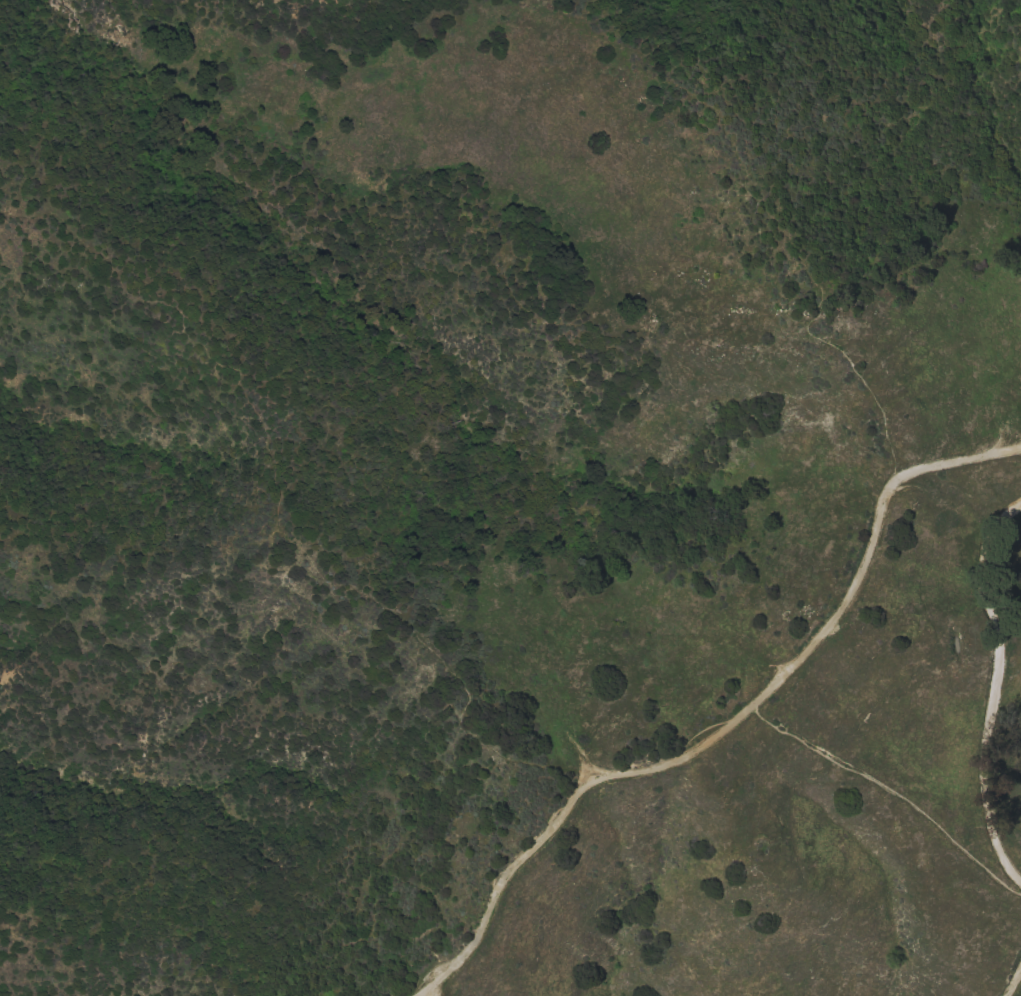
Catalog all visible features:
road: (278, 498)
road: (991, 690)
road: (728, 726)
road: (887, 788)
road: (1014, 982)

